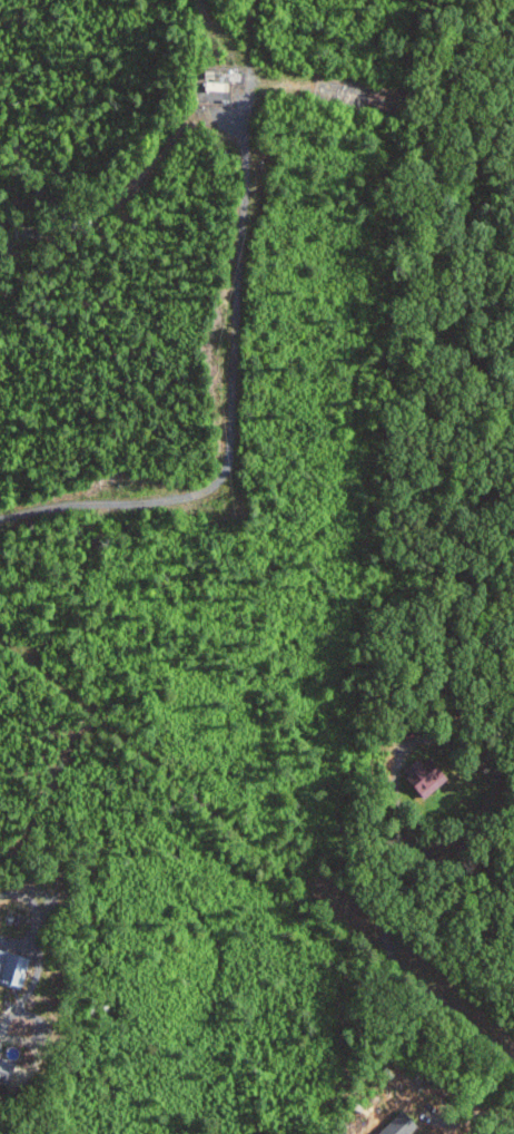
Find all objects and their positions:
road: (234, 410)
road: (459, 743)
building: (426, 775)
building: (14, 966)
road: (413, 976)
road: (29, 1014)
road: (9, 1015)
building: (9, 1072)
road: (468, 1116)
building: (403, 1124)

